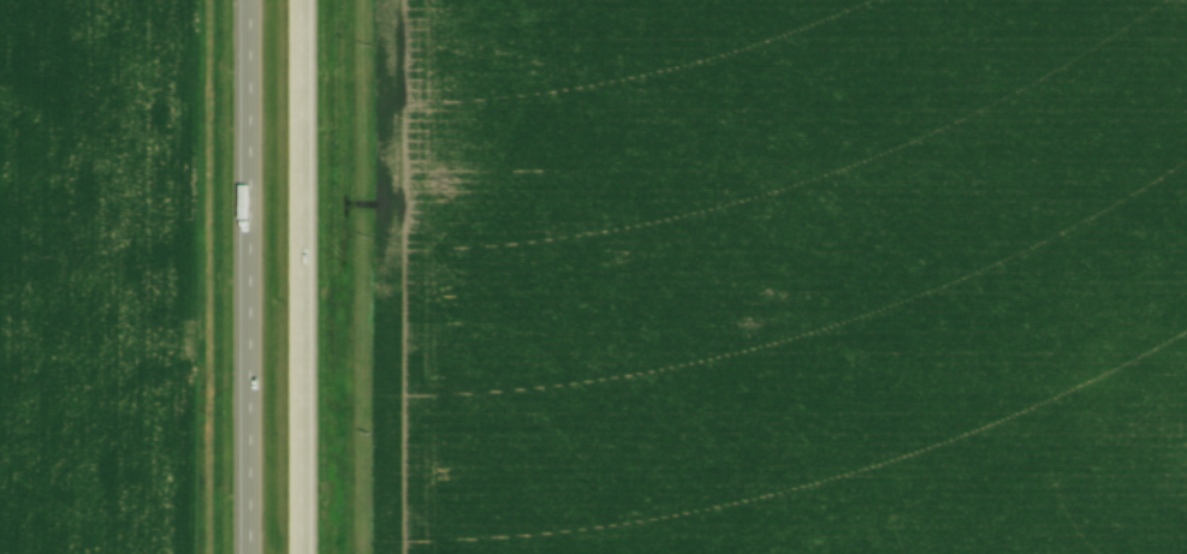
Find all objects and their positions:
road: (247, 276)
road: (296, 276)

